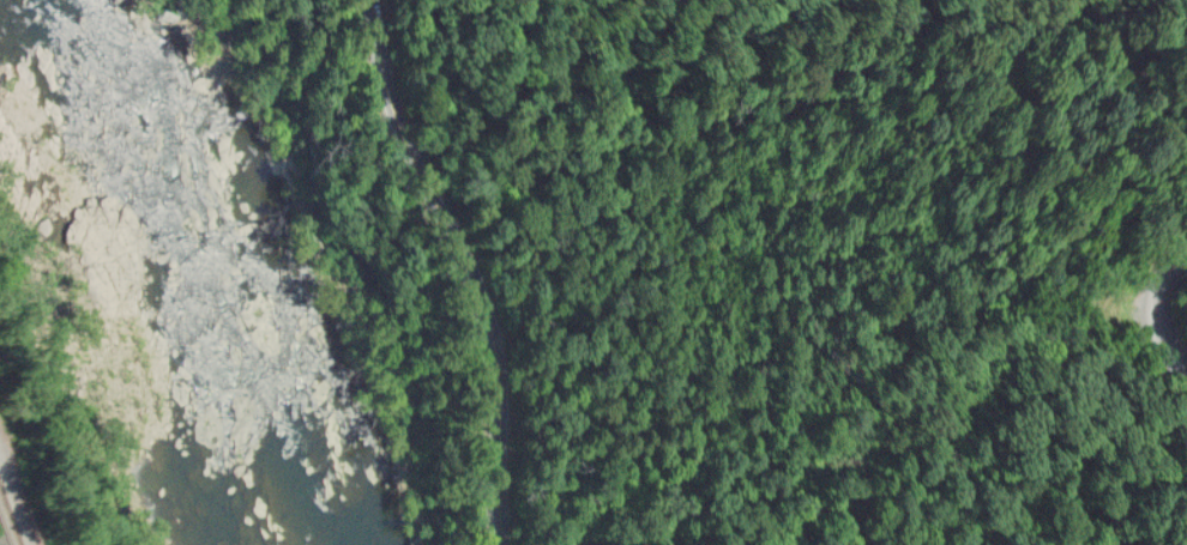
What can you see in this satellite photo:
road: (466, 265)
river: (159, 272)
road: (1159, 308)
railway: (10, 516)
railway: (4, 533)

